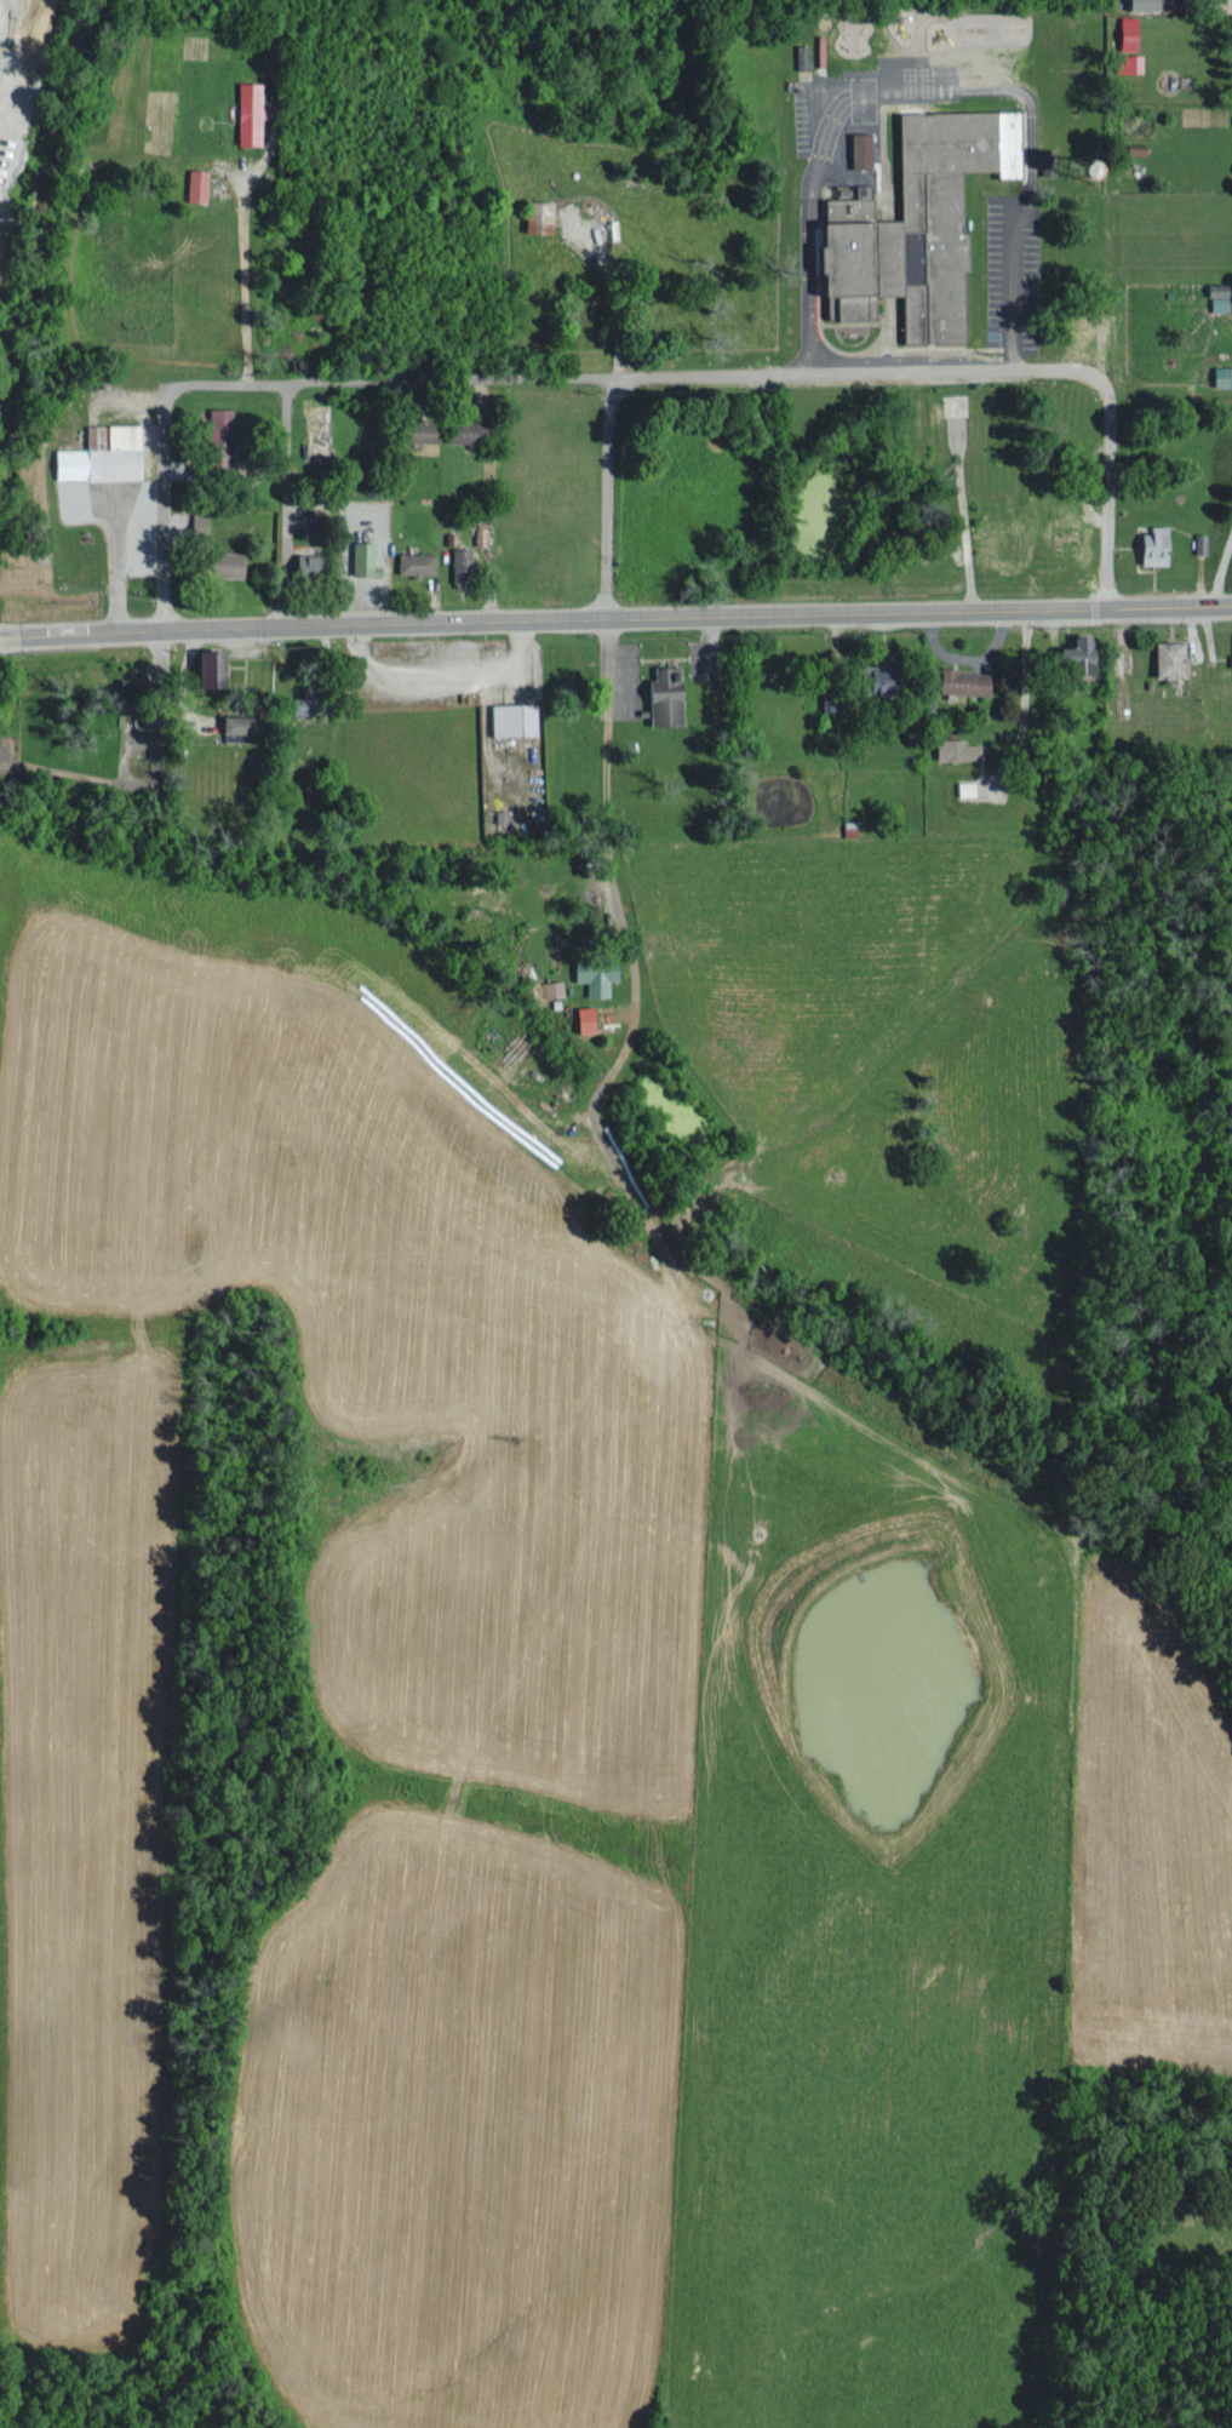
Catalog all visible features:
building: (1136, 2)
building: (1123, 30)
building: (1124, 61)
building: (251, 111)
building: (856, 148)
building: (199, 183)
building: (533, 213)
building: (909, 222)
building: (1210, 286)
building: (1214, 300)
building: (1075, 325)
road: (974, 367)
building: (1220, 373)
road: (425, 377)
building: (950, 402)
building: (414, 428)
building: (459, 429)
building: (105, 453)
road: (164, 479)
road: (606, 496)
road: (282, 504)
building: (1060, 532)
building: (1007, 542)
building: (1147, 544)
building: (360, 557)
building: (458, 557)
building: (412, 562)
building: (311, 563)
road: (618, 617)
road: (2, 637)
building: (1067, 653)
building: (1228, 654)
building: (1164, 657)
building: (867, 676)
building: (961, 680)
building: (141, 685)
building: (660, 693)
building: (509, 716)
building: (243, 726)
building: (953, 746)
building: (591, 972)
building: (551, 986)
building: (579, 1017)

